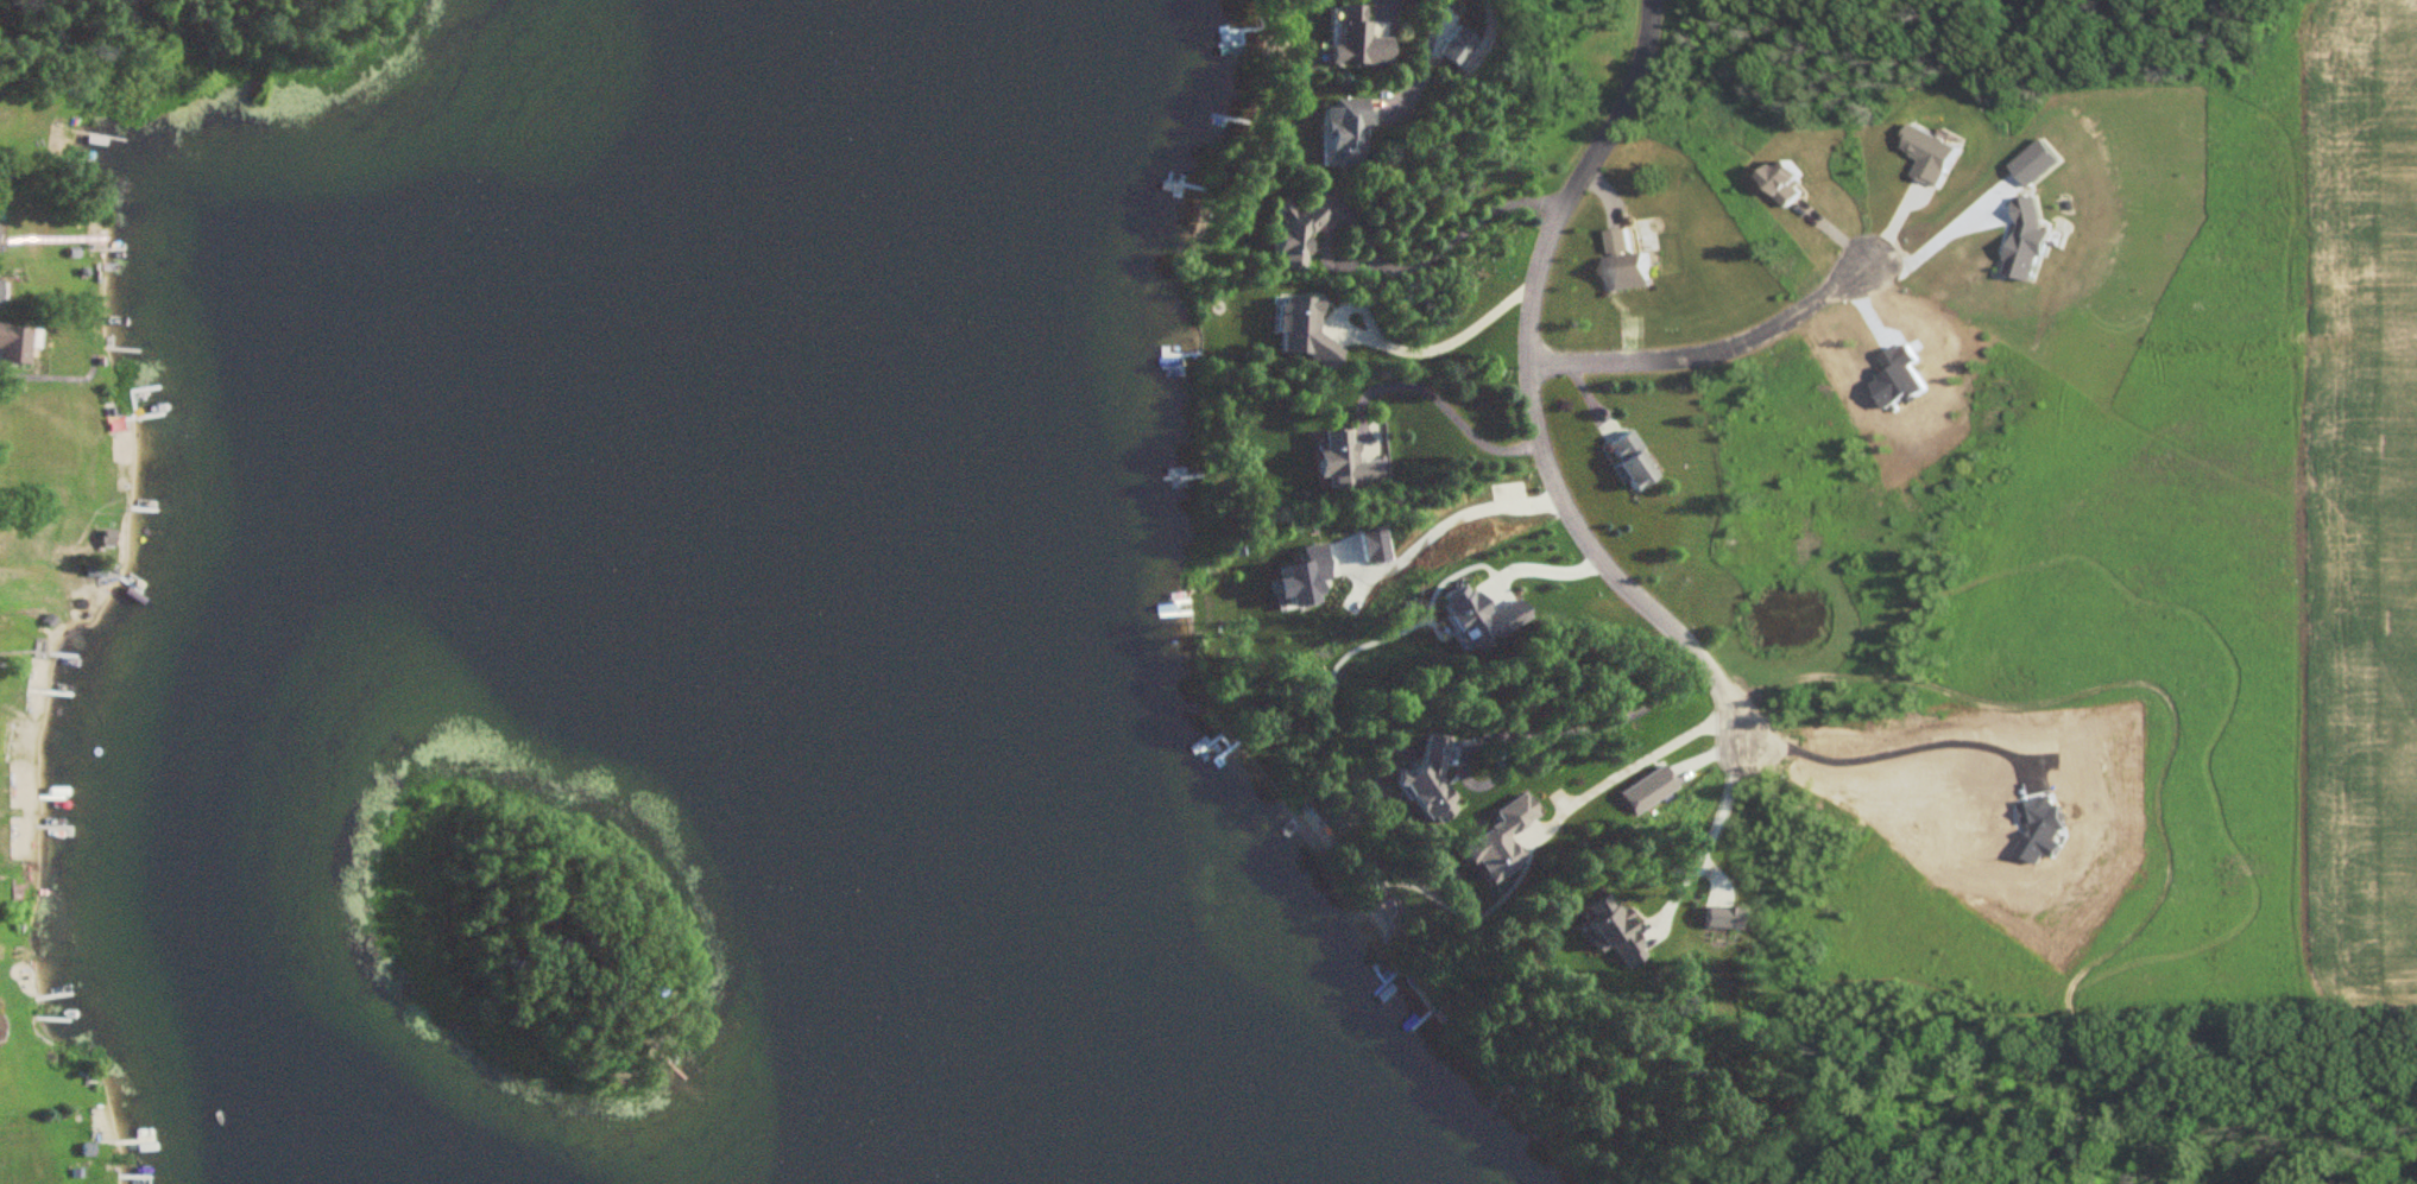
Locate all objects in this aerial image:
building: (1355, 39)
road: (1435, 59)
building: (1343, 134)
building: (1780, 182)
building: (1292, 235)
building: (1622, 262)
road: (1405, 267)
building: (10, 344)
road: (1413, 350)
road: (1708, 353)
road: (1534, 390)
road: (1440, 399)
building: (1628, 461)
building: (1345, 463)
road: (1483, 526)
building: (106, 539)
road: (1541, 730)
road: (1635, 762)
building: (1426, 780)
road: (1715, 828)
building: (1500, 841)

